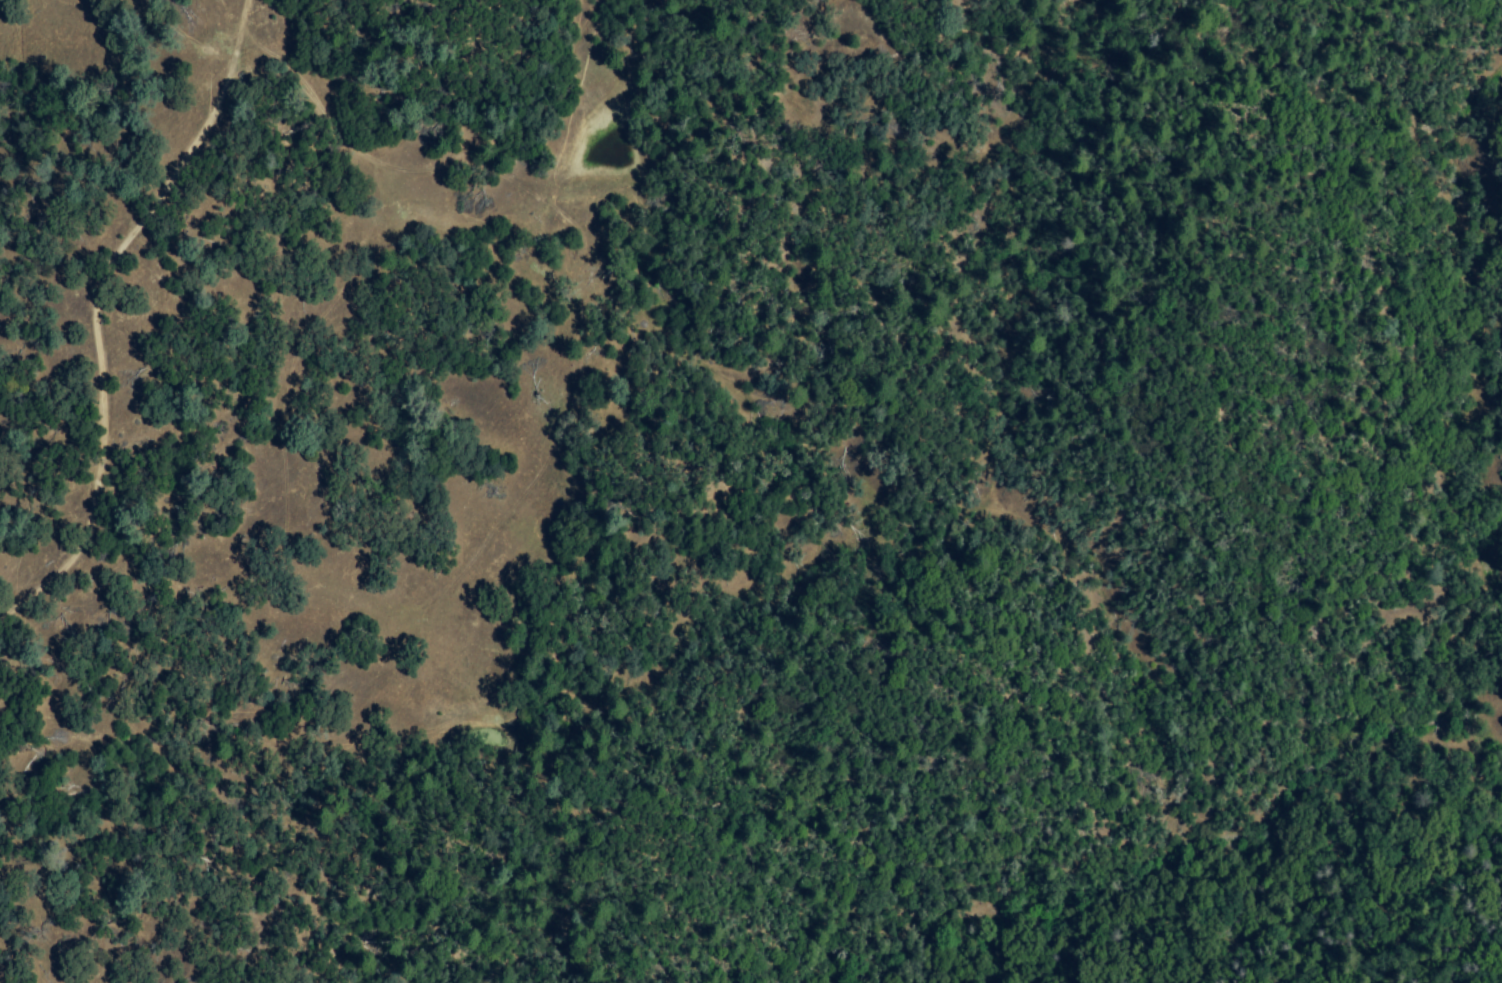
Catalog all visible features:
road: (91, 310)

